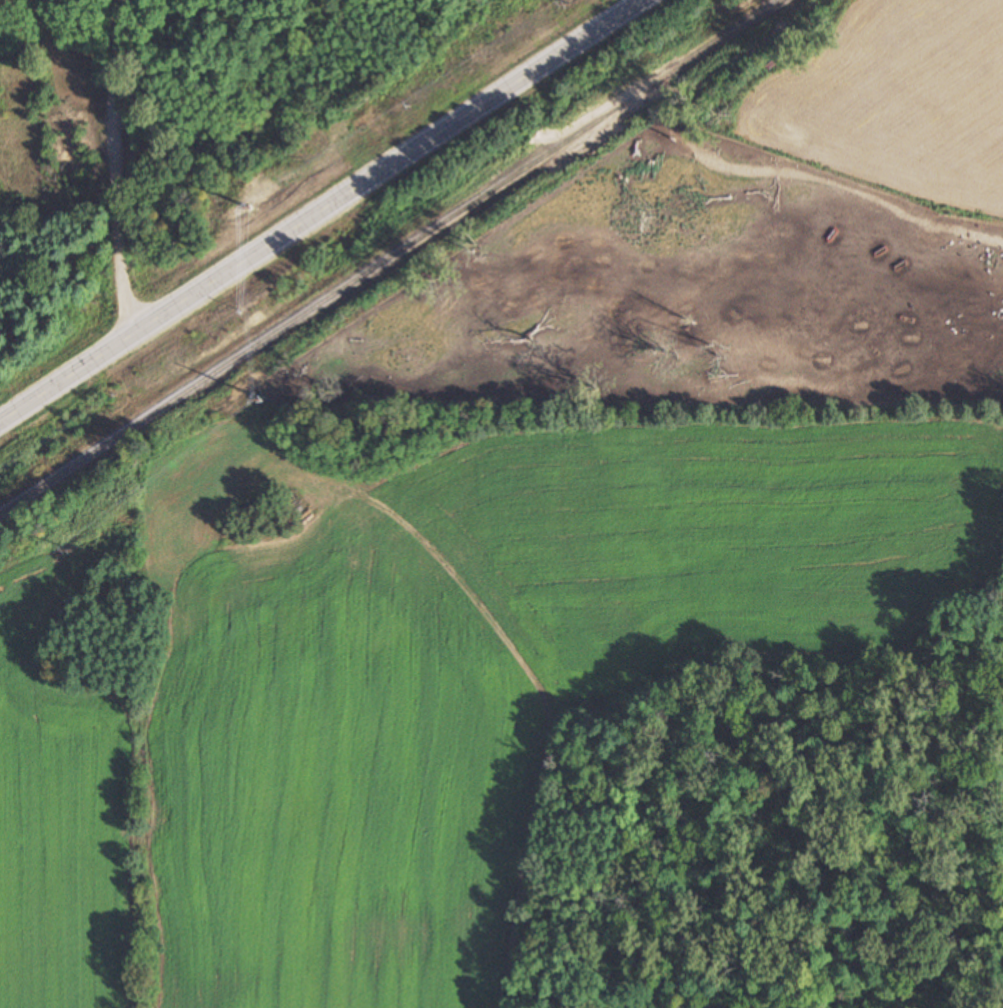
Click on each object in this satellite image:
road: (321, 210)
railway: (391, 257)

